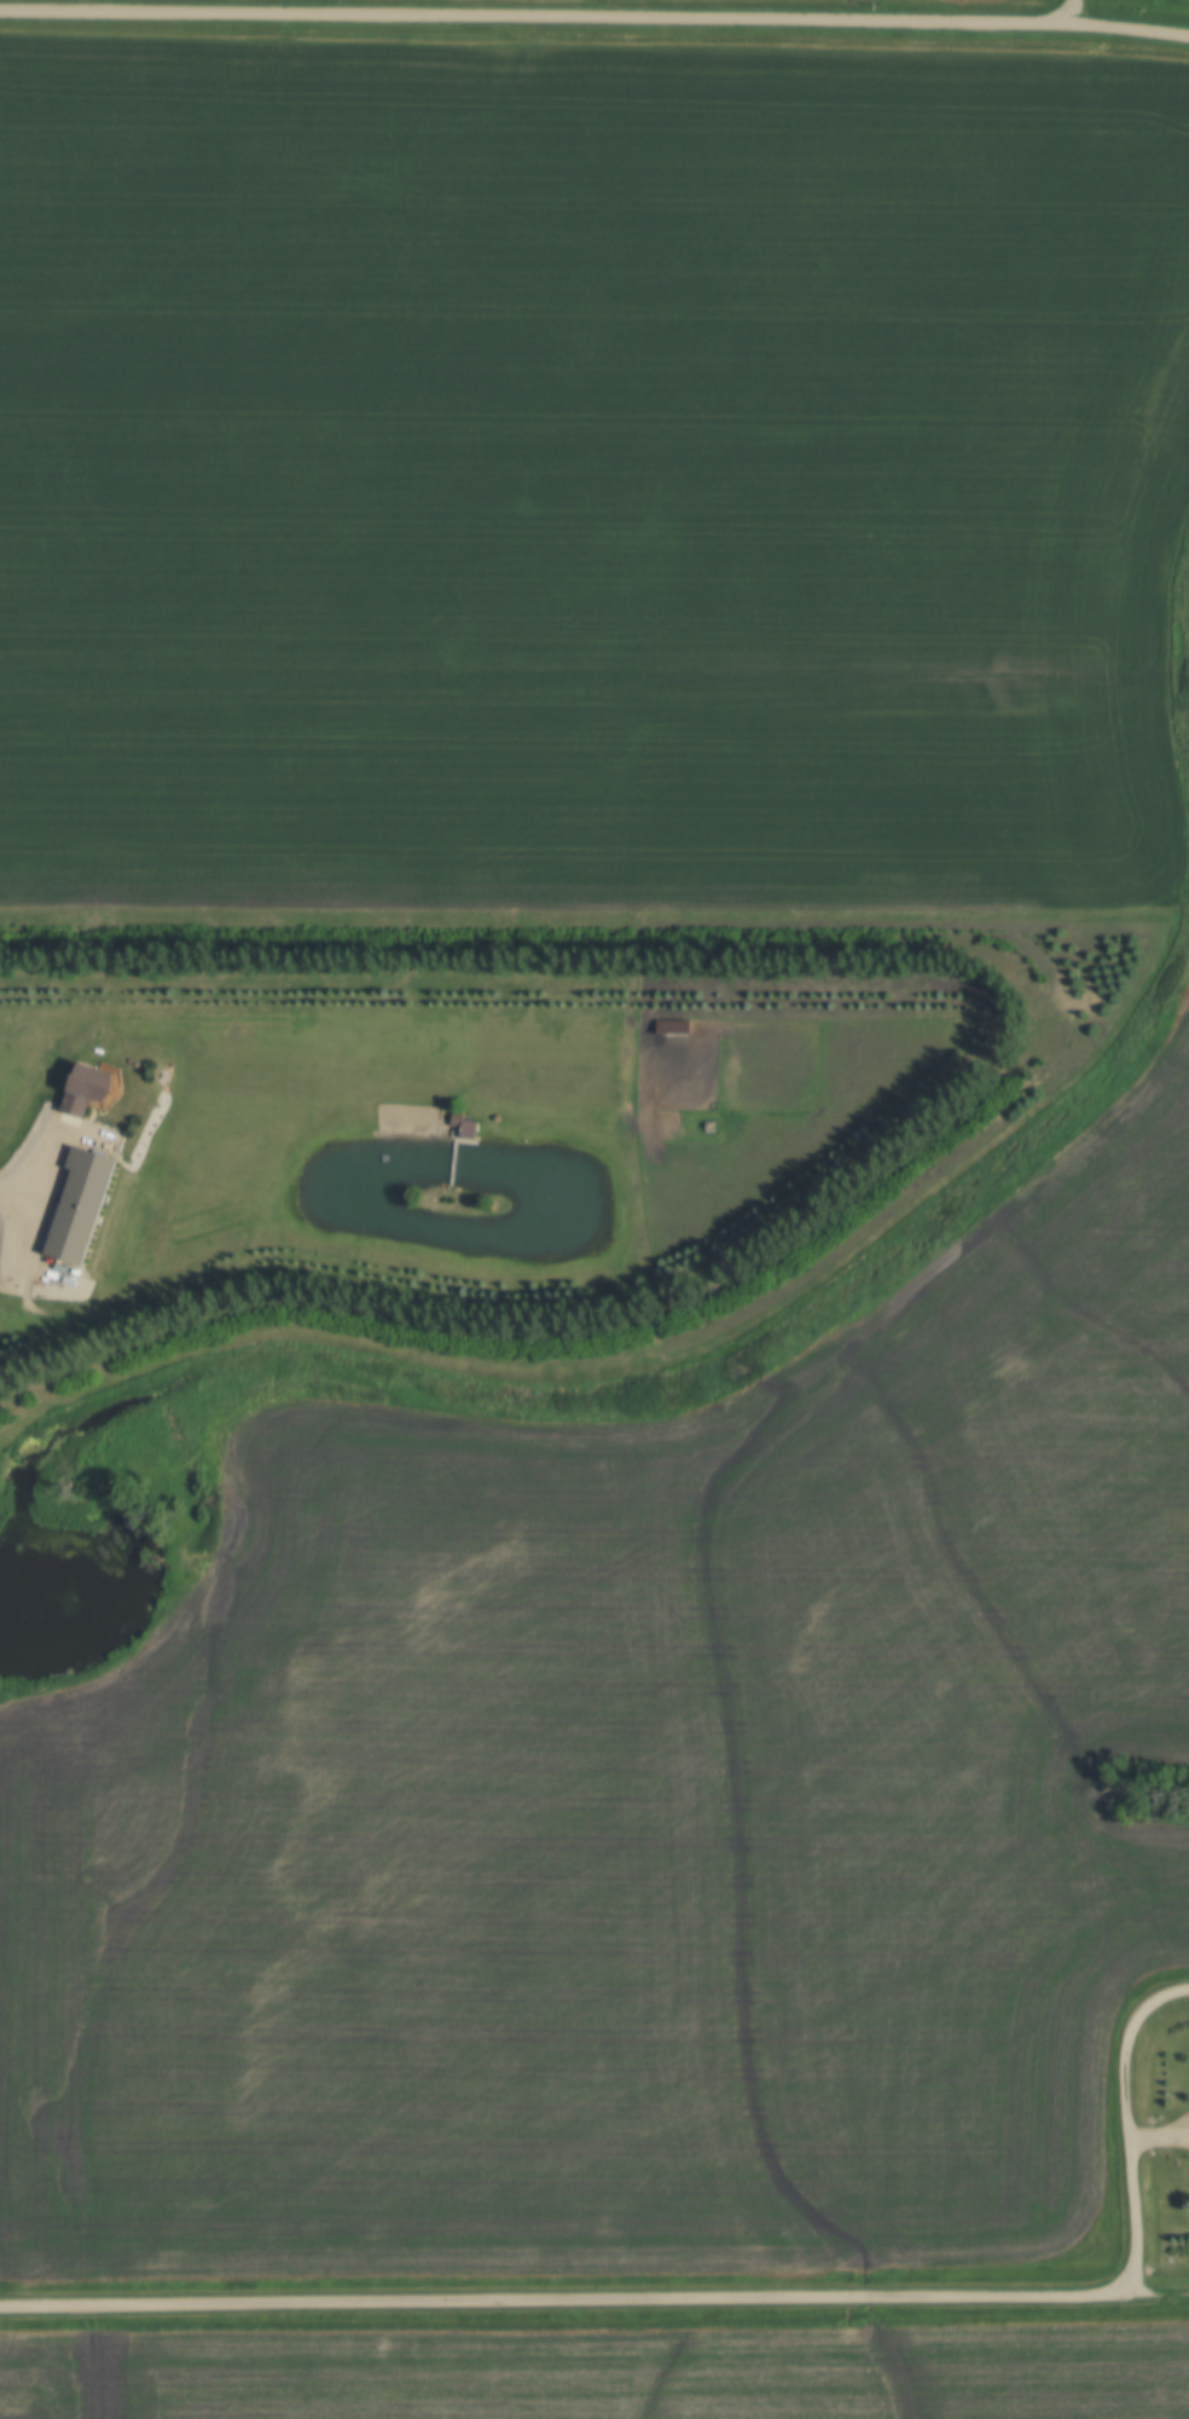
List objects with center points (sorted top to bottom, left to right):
road: (1072, 13)
road: (594, 21)
building: (495, 1117)
building: (465, 1121)
road: (452, 1162)
road: (18, 1198)
road: (1154, 2297)
road: (735, 2303)

